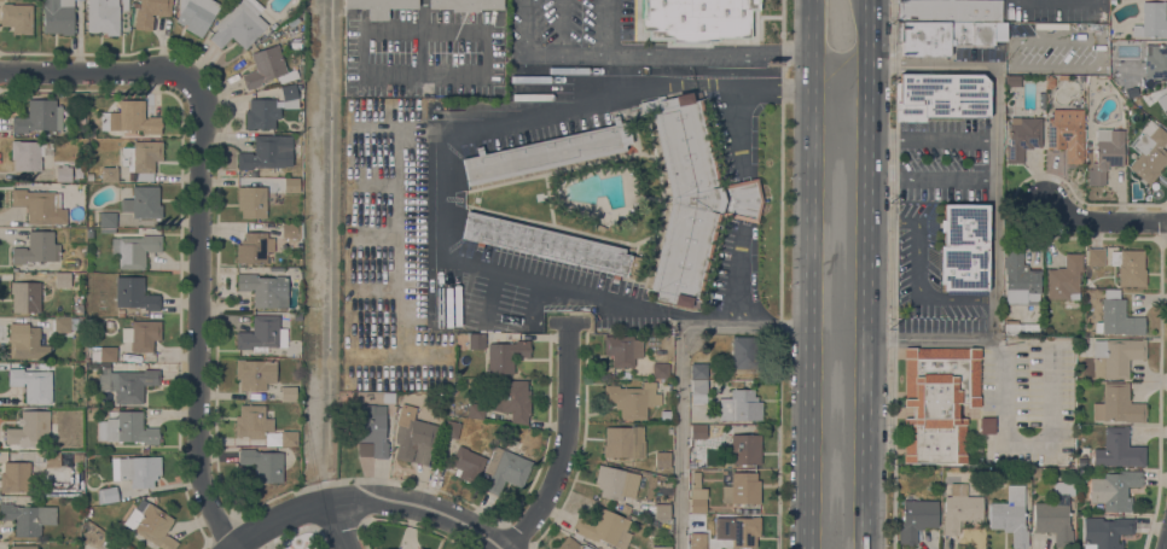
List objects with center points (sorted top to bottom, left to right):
road: (423, 2)
building: (123, 4)
building: (465, 4)
building: (379, 6)
building: (151, 12)
building: (196, 14)
building: (58, 16)
building: (103, 16)
building: (17, 17)
building: (696, 19)
building: (292, 21)
road: (812, 21)
building: (1151, 21)
building: (239, 23)
road: (604, 24)
building: (944, 24)
road: (523, 25)
road: (561, 25)
road: (866, 28)
road: (1099, 40)
building: (295, 43)
road: (582, 49)
road: (541, 51)
road: (641, 51)
road: (745, 53)
building: (1155, 60)
building: (1124, 62)
road: (930, 64)
building: (268, 68)
road: (93, 70)
building: (1012, 80)
road: (733, 87)
building: (1131, 90)
building: (290, 95)
building: (940, 97)
building: (1040, 100)
building: (1166, 101)
building: (1165, 111)
building: (261, 113)
building: (39, 116)
building: (130, 117)
building: (1067, 133)
building: (1022, 136)
road: (931, 138)
building: (1149, 151)
building: (269, 152)
building: (545, 152)
building: (1105, 153)
building: (25, 154)
building: (141, 159)
building: (79, 171)
building: (63, 173)
building: (110, 174)
road: (446, 176)
road: (930, 179)
building: (291, 185)
building: (693, 198)
building: (251, 200)
building: (143, 202)
road: (994, 202)
building: (35, 204)
building: (108, 220)
road: (1104, 222)
building: (289, 229)
building: (88, 232)
road: (1138, 236)
building: (551, 245)
building: (254, 247)
building: (963, 247)
building: (134, 249)
road: (327, 250)
building: (36, 251)
building: (1096, 256)
building: (1128, 267)
road: (919, 268)
building: (277, 269)
road: (893, 274)
building: (1020, 278)
building: (1064, 278)
building: (62, 279)
building: (266, 290)
building: (134, 293)
road: (811, 294)
building: (25, 296)
road: (865, 303)
road: (732, 310)
building: (120, 311)
road: (198, 314)
building: (296, 315)
building: (1117, 316)
building: (64, 323)
building: (1020, 326)
building: (143, 334)
building: (262, 334)
road: (929, 338)
building: (476, 340)
building: (25, 341)
road: (999, 343)
building: (620, 350)
building: (745, 352)
building: (108, 354)
building: (505, 355)
building: (1115, 356)
building: (40, 364)
building: (1084, 368)
building: (660, 370)
building: (698, 370)
building: (255, 373)
road: (684, 376)
building: (127, 382)
building: (34, 384)
building: (698, 391)
building: (289, 392)
building: (388, 396)
building: (511, 399)
building: (632, 399)
building: (937, 402)
building: (1117, 404)
building: (739, 405)
building: (476, 410)
building: (666, 414)
building: (252, 421)
building: (987, 425)
building: (31, 427)
building: (127, 428)
building: (451, 428)
building: (371, 431)
building: (698, 431)
building: (413, 437)
building: (289, 438)
road: (562, 440)
road: (1052, 440)
building: (623, 442)
building: (745, 449)
building: (1117, 449)
building: (62, 457)
building: (662, 459)
building: (263, 463)
building: (466, 463)
building: (137, 469)
building: (505, 469)
building: (1037, 472)
building: (14, 477)
building: (615, 483)
building: (742, 489)
building: (1114, 489)
building: (697, 493)
building: (108, 495)
road: (423, 506)
building: (625, 508)
building: (960, 508)
building: (661, 512)
building: (1056, 514)
building: (1010, 515)
building: (28, 518)
building: (917, 518)
road: (283, 519)
building: (151, 524)
road: (339, 525)
building: (605, 527)
building: (737, 531)
building: (1105, 531)
building: (569, 543)
building: (112, 544)
building: (697, 545)
building: (23, 547)
building: (586, 547)
building: (661, 547)
road: (233, 548)
building: (419, 548)

